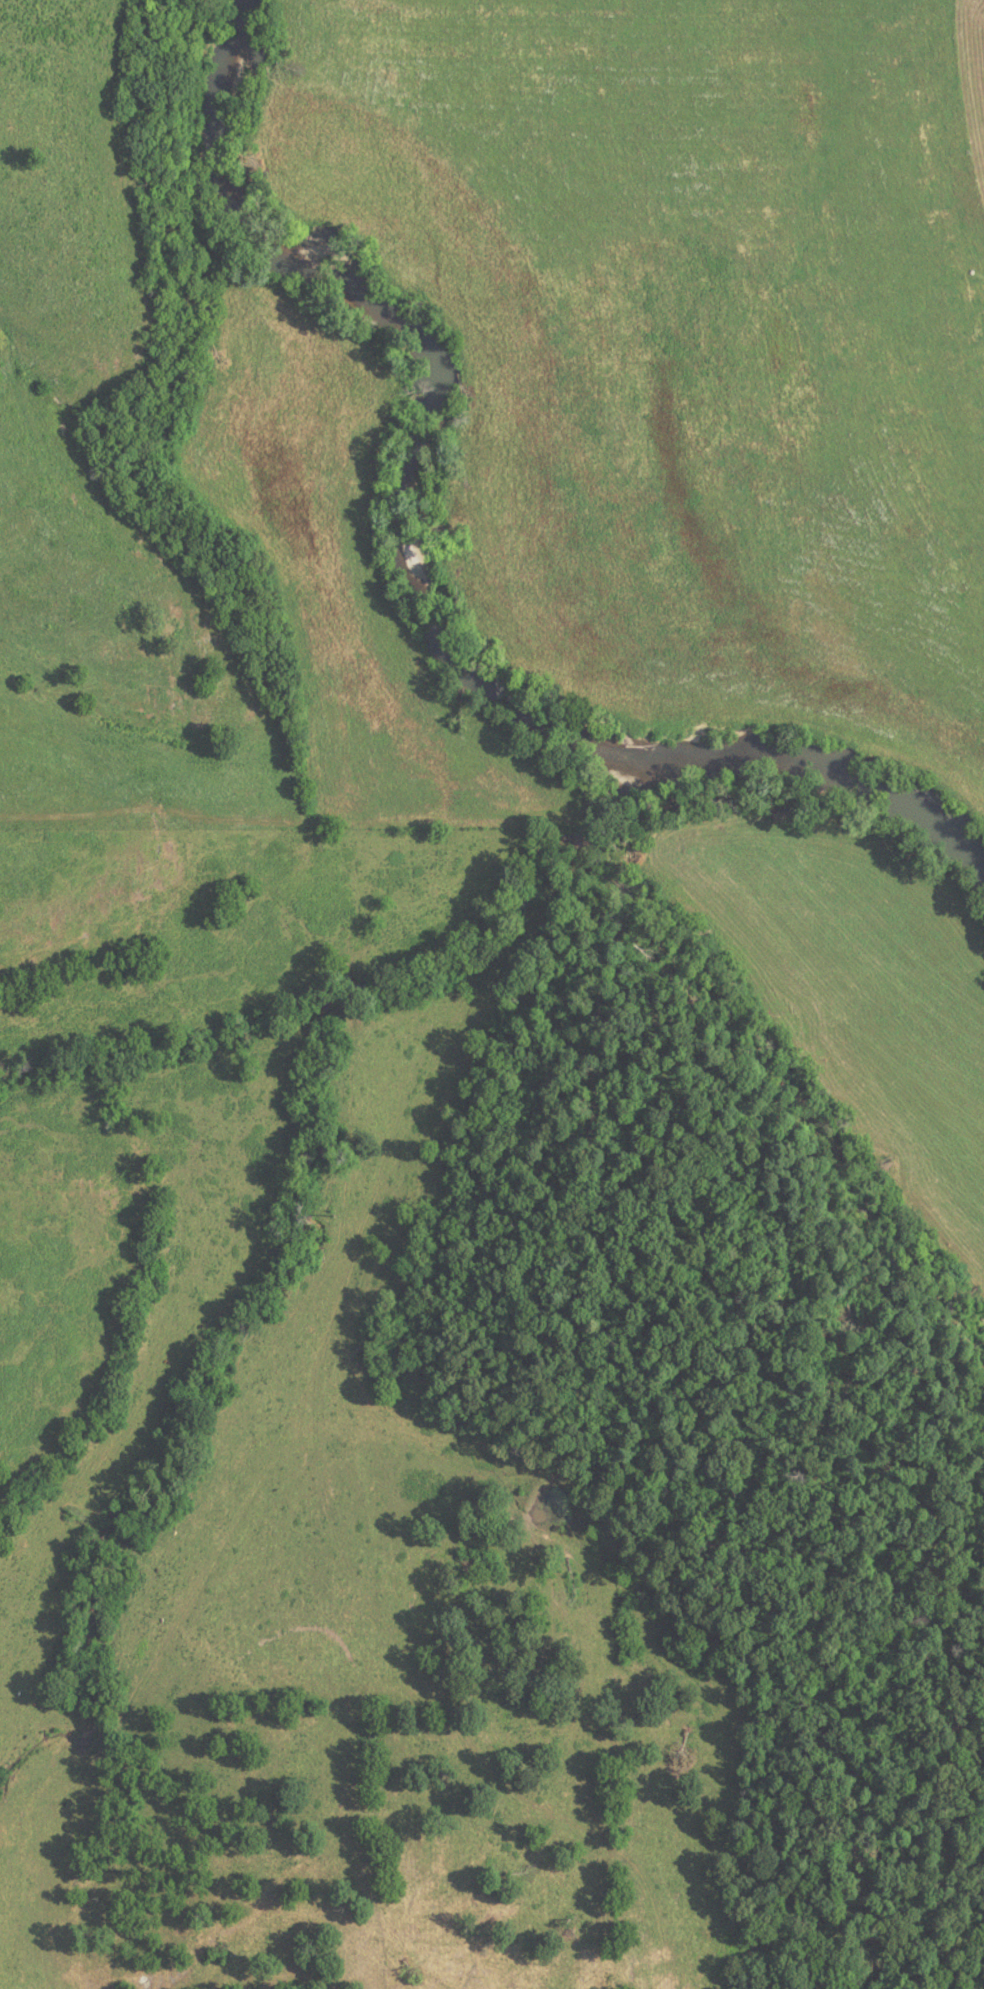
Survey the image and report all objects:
river: (414, 580)
road: (278, 821)

